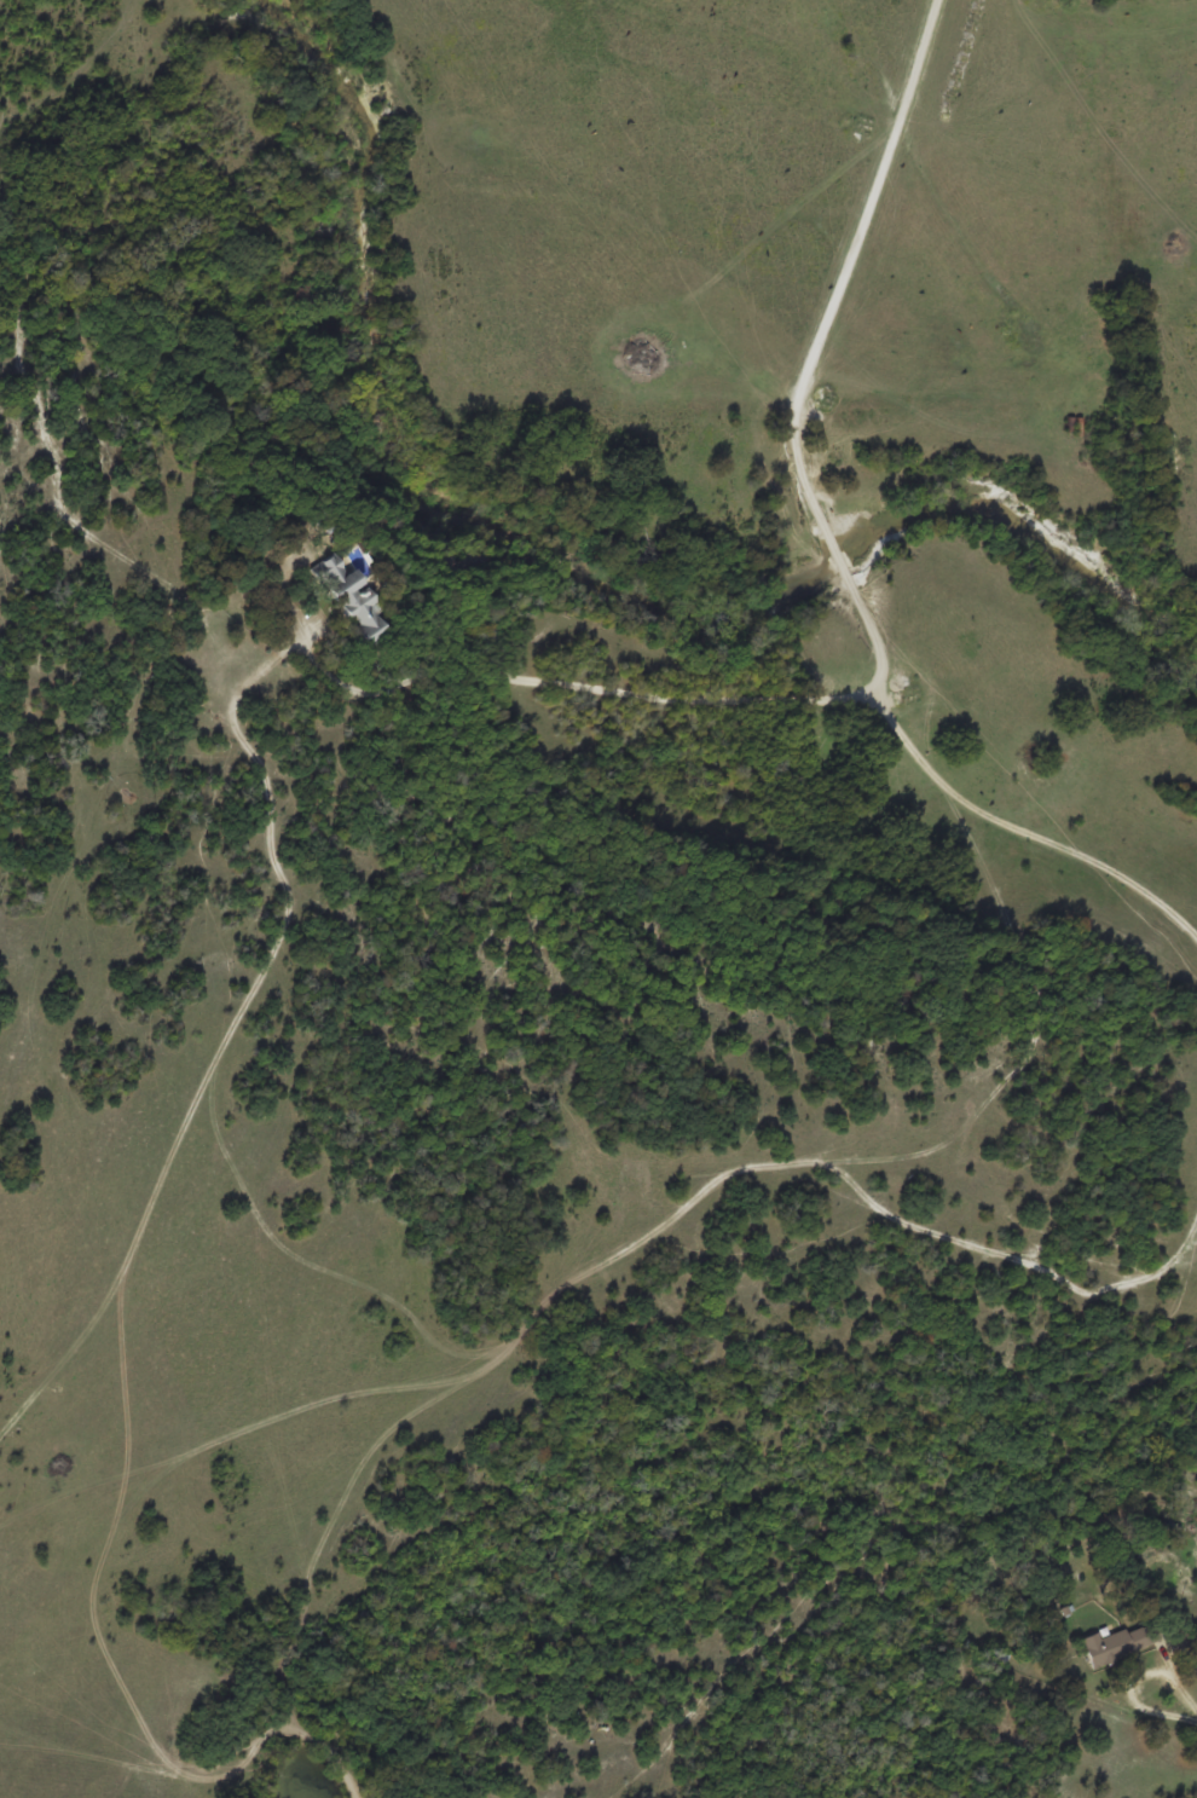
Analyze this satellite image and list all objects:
road: (849, 260)
road: (838, 551)
building: (331, 570)
building: (362, 612)
road: (664, 696)
road: (1076, 1502)
building: (1121, 1641)

